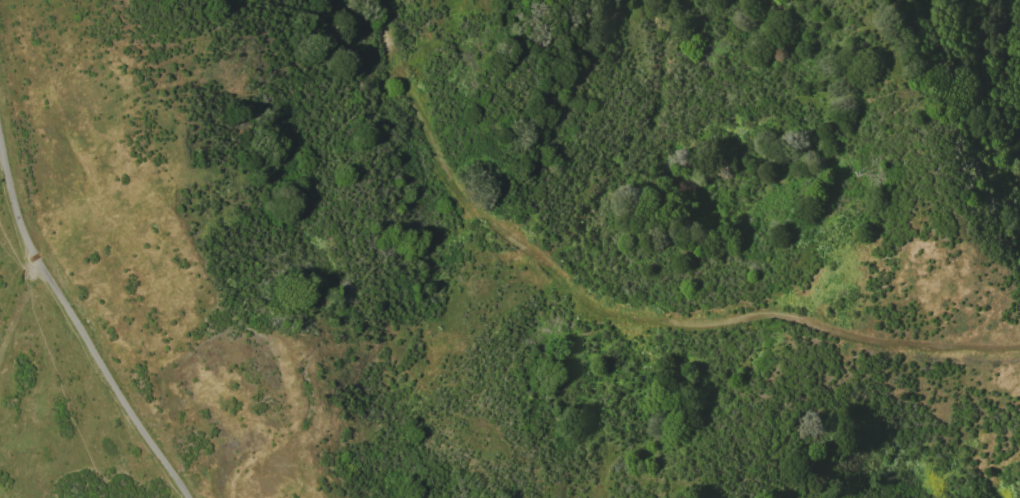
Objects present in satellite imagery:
road: (14, 226)
road: (616, 312)
road: (78, 326)

